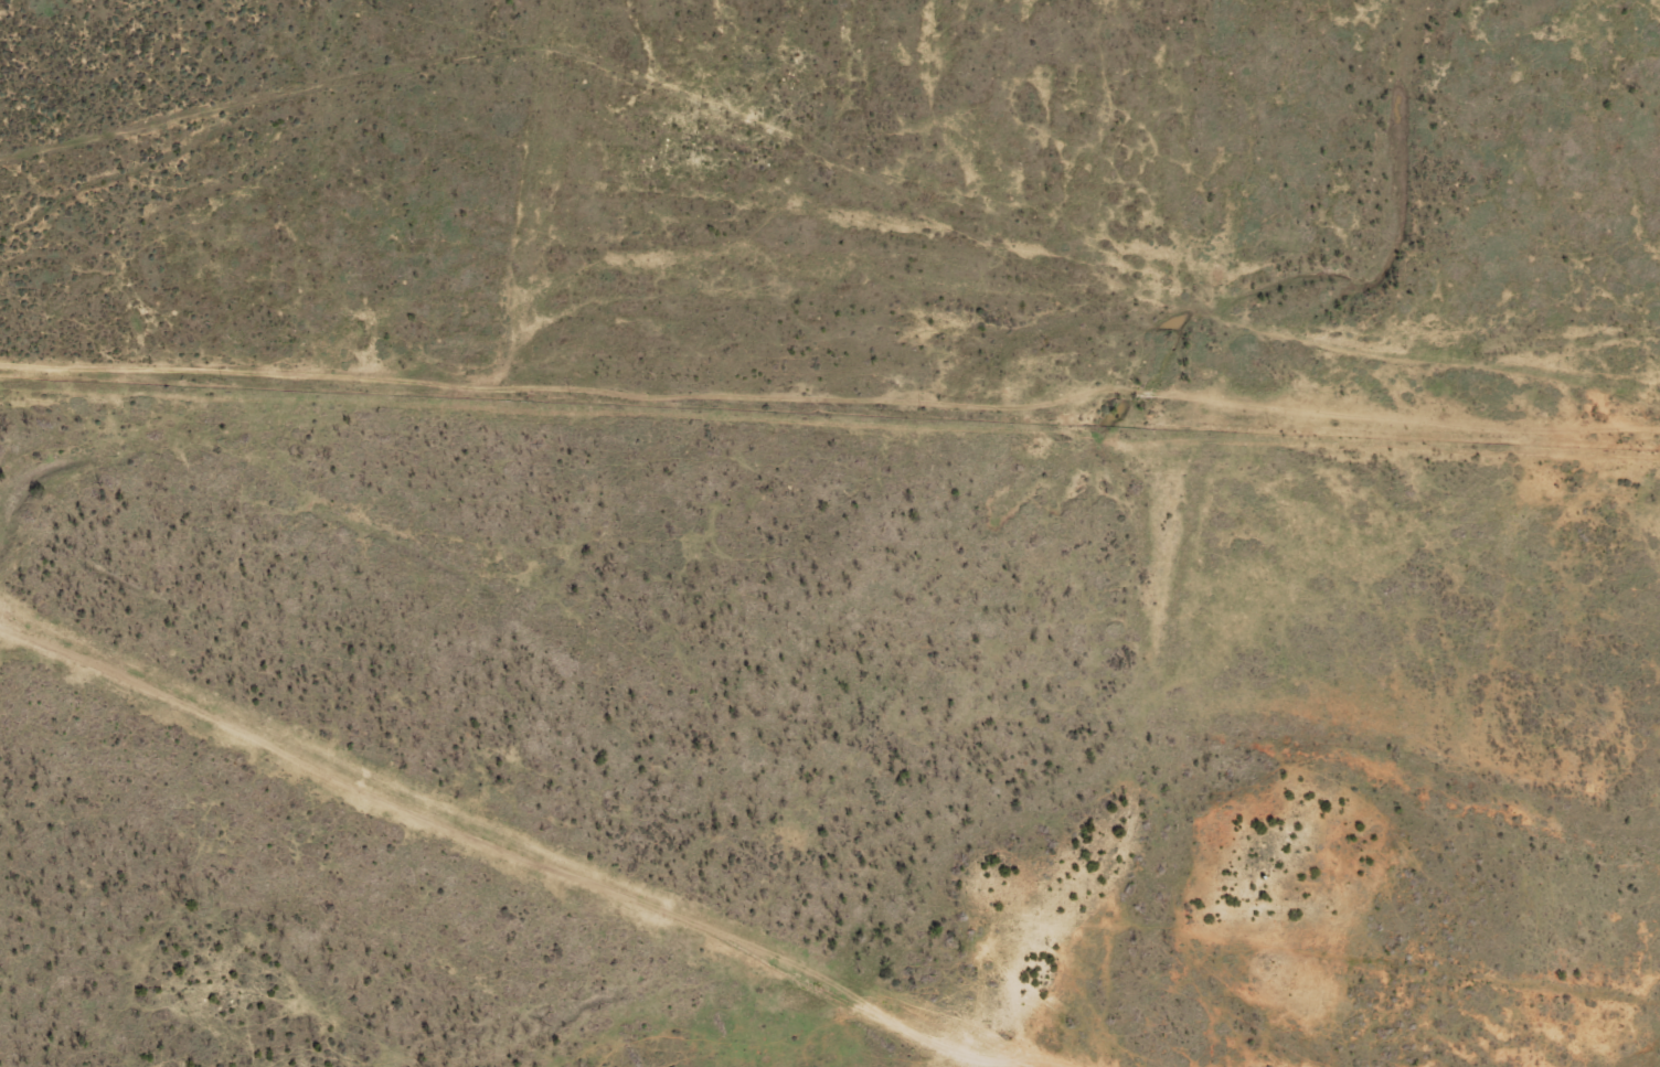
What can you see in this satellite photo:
road: (817, 213)

